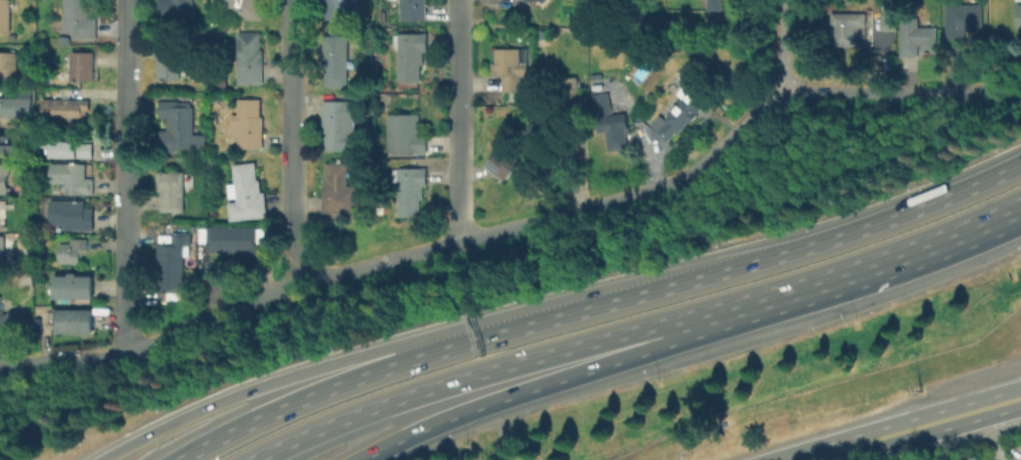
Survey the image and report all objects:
building: (532, 2)
building: (716, 5)
building: (339, 9)
building: (250, 10)
building: (177, 11)
building: (413, 11)
building: (1017, 14)
building: (5, 17)
building: (80, 20)
building: (890, 22)
building: (964, 23)
building: (849, 31)
building: (917, 39)
road: (781, 49)
building: (411, 58)
building: (251, 60)
building: (170, 62)
building: (336, 64)
building: (9, 66)
building: (84, 67)
building: (510, 70)
building: (572, 95)
building: (16, 108)
building: (66, 111)
building: (681, 115)
road: (456, 120)
building: (249, 125)
building: (334, 127)
building: (179, 128)
building: (611, 129)
building: (553, 130)
building: (406, 137)
building: (534, 137)
road: (289, 140)
building: (5, 146)
building: (71, 150)
building: (502, 165)
road: (126, 177)
building: (5, 179)
building: (73, 179)
building: (410, 186)
building: (338, 191)
building: (173, 192)
building: (247, 195)
road: (577, 208)
building: (0, 216)
building: (72, 216)
road: (848, 237)
building: (231, 241)
building: (177, 251)
building: (73, 252)
building: (3, 253)
road: (868, 271)
building: (173, 284)
building: (76, 288)
road: (567, 314)
building: (74, 323)
building: (14, 325)
road: (63, 364)
road: (402, 366)
road: (479, 375)
road: (279, 382)
road: (539, 390)
road: (260, 422)
road: (916, 428)
road: (990, 435)
building: (975, 459)
building: (985, 459)

